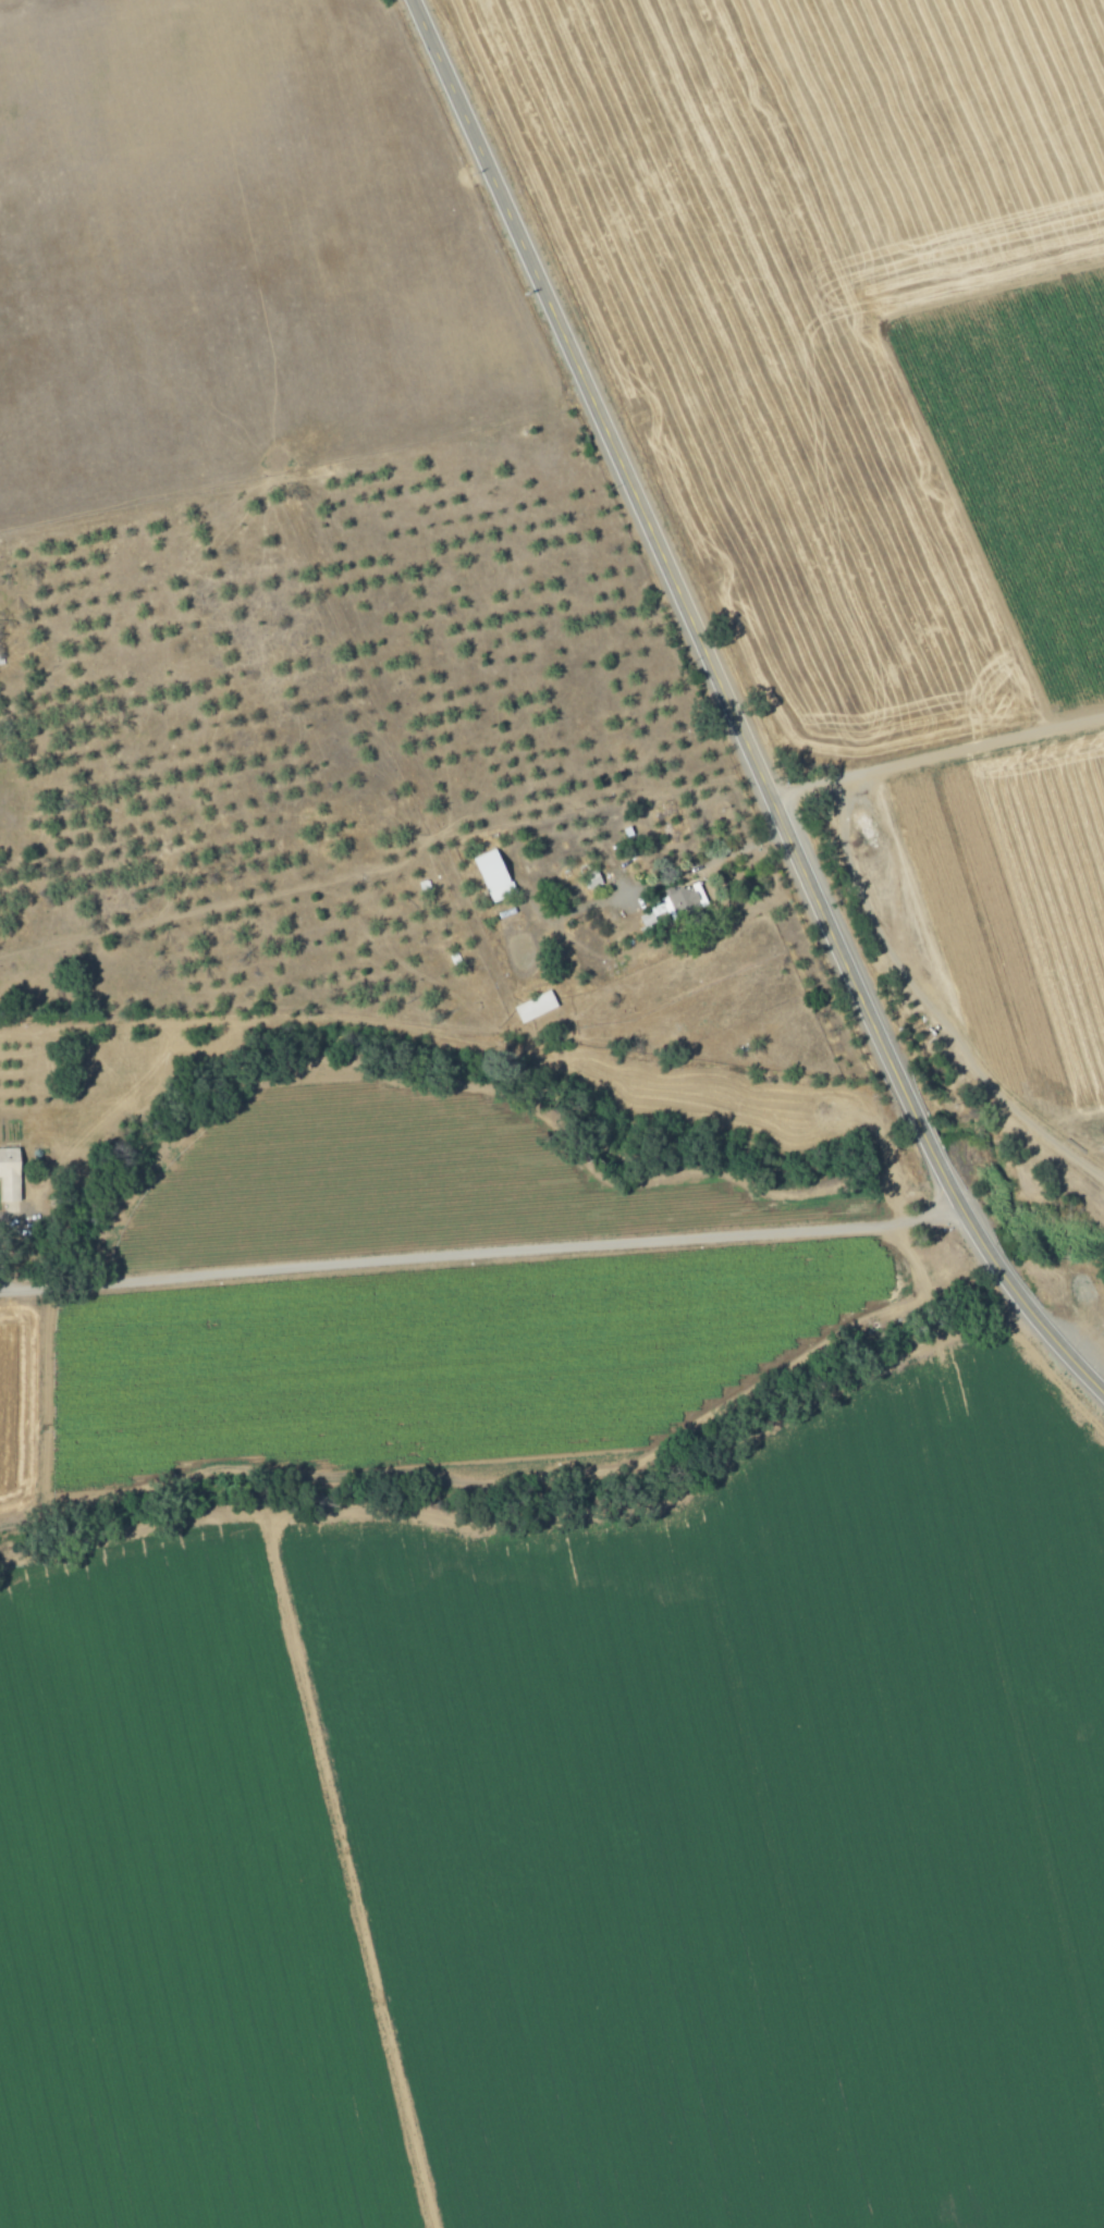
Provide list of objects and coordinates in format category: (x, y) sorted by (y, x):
road: (665, 544)
road: (941, 755)
building: (495, 873)
road: (673, 875)
building: (677, 904)
road: (925, 1004)
building: (536, 1005)
road: (917, 1121)
building: (11, 1172)
road: (953, 1194)
road: (482, 1253)
road: (998, 1267)
road: (1062, 1342)

